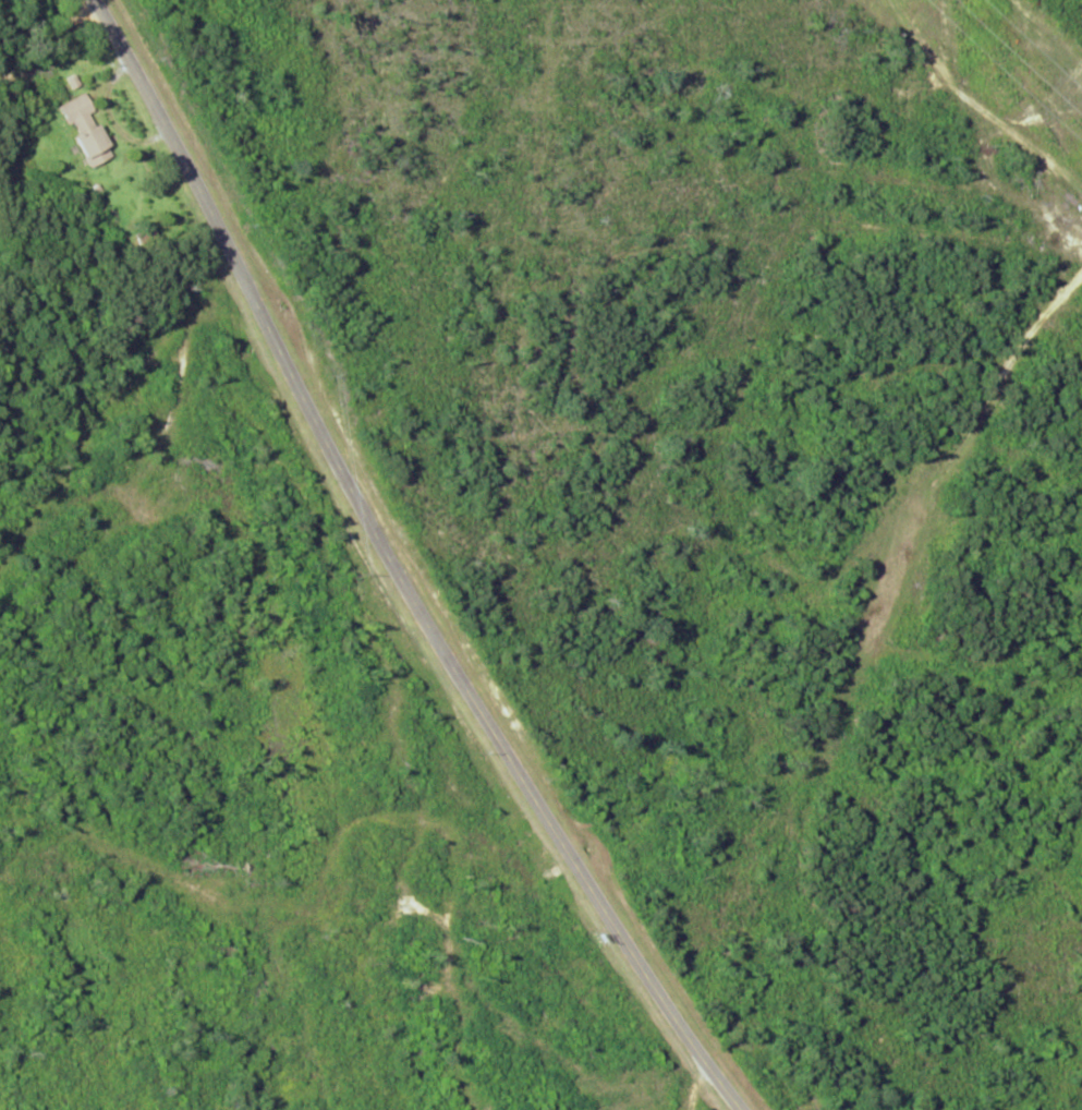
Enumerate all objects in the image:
building: (75, 109)
building: (94, 145)
road: (96, 286)
road: (365, 567)

